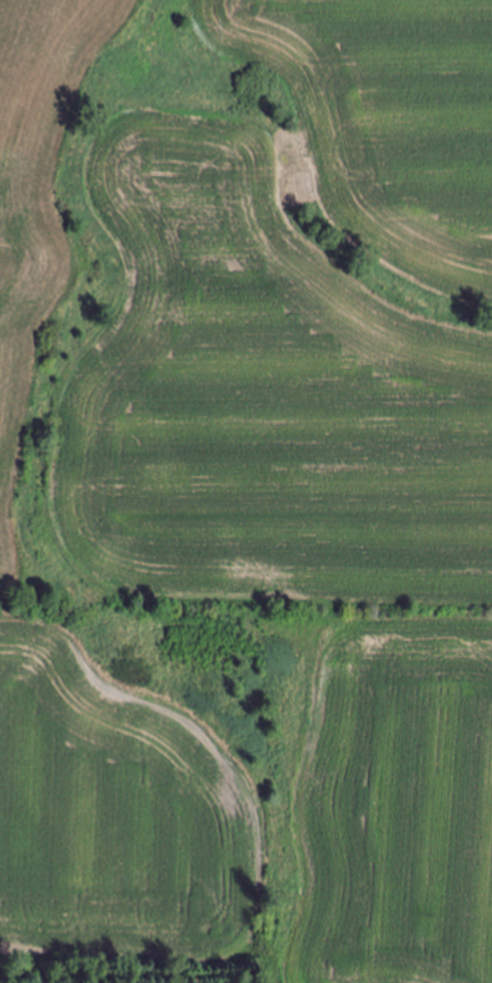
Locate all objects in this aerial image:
crop: (247, 484)

